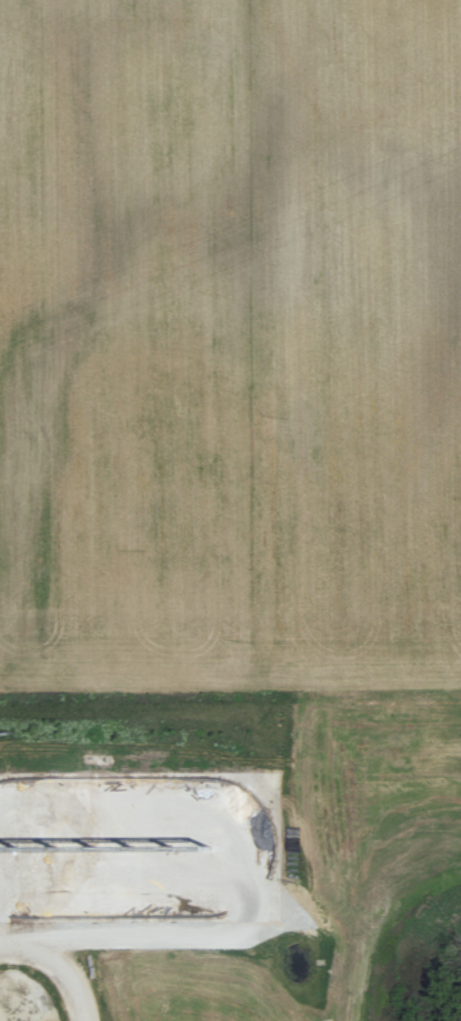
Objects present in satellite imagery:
building: (239, 828)

